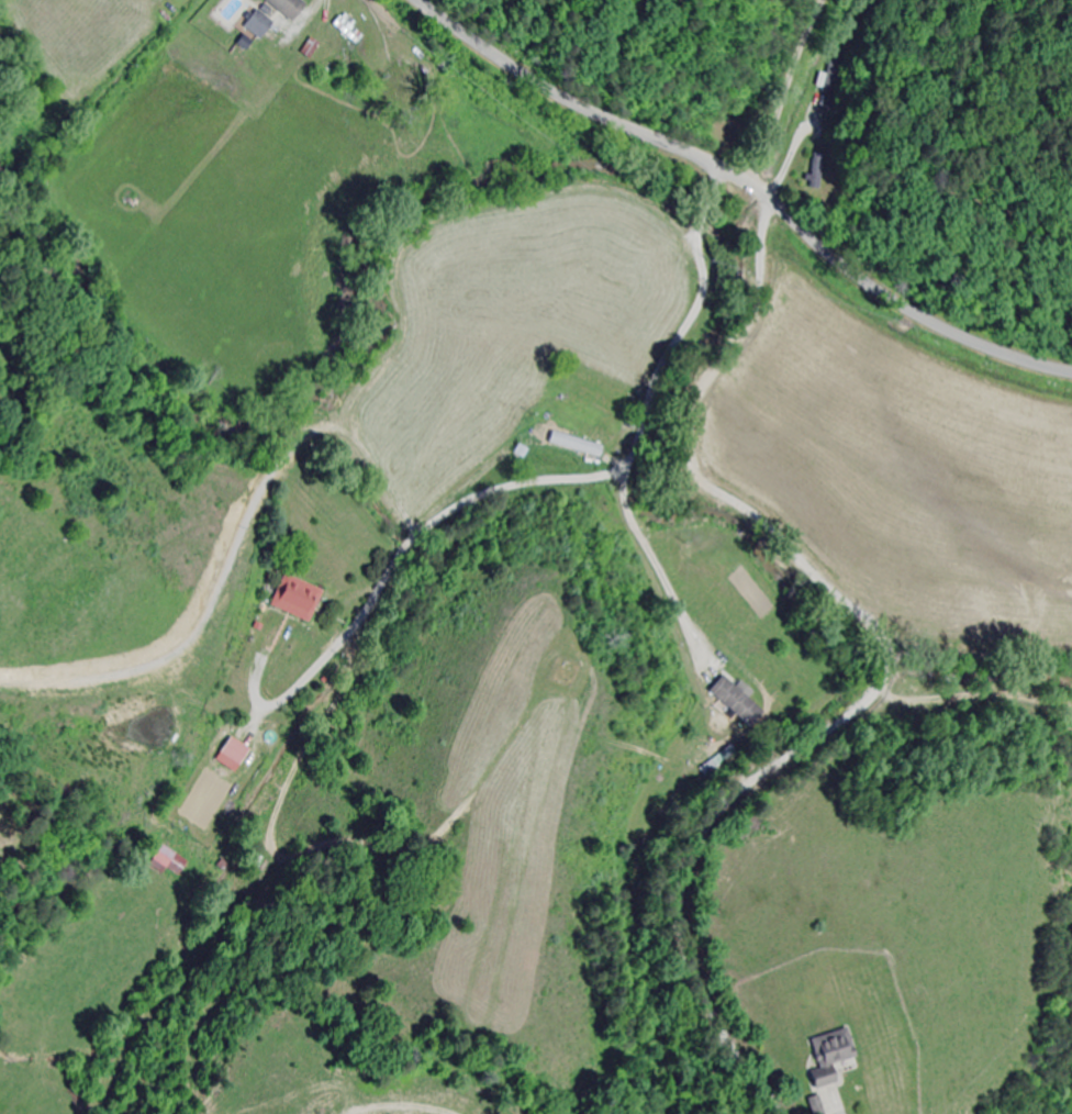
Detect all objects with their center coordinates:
building: (293, 7)
building: (263, 24)
building: (351, 31)
building: (411, 78)
building: (828, 82)
road: (588, 113)
road: (909, 309)
building: (570, 443)
building: (300, 598)
road: (889, 664)
building: (739, 702)
road: (968, 733)
building: (236, 755)
building: (837, 1057)

